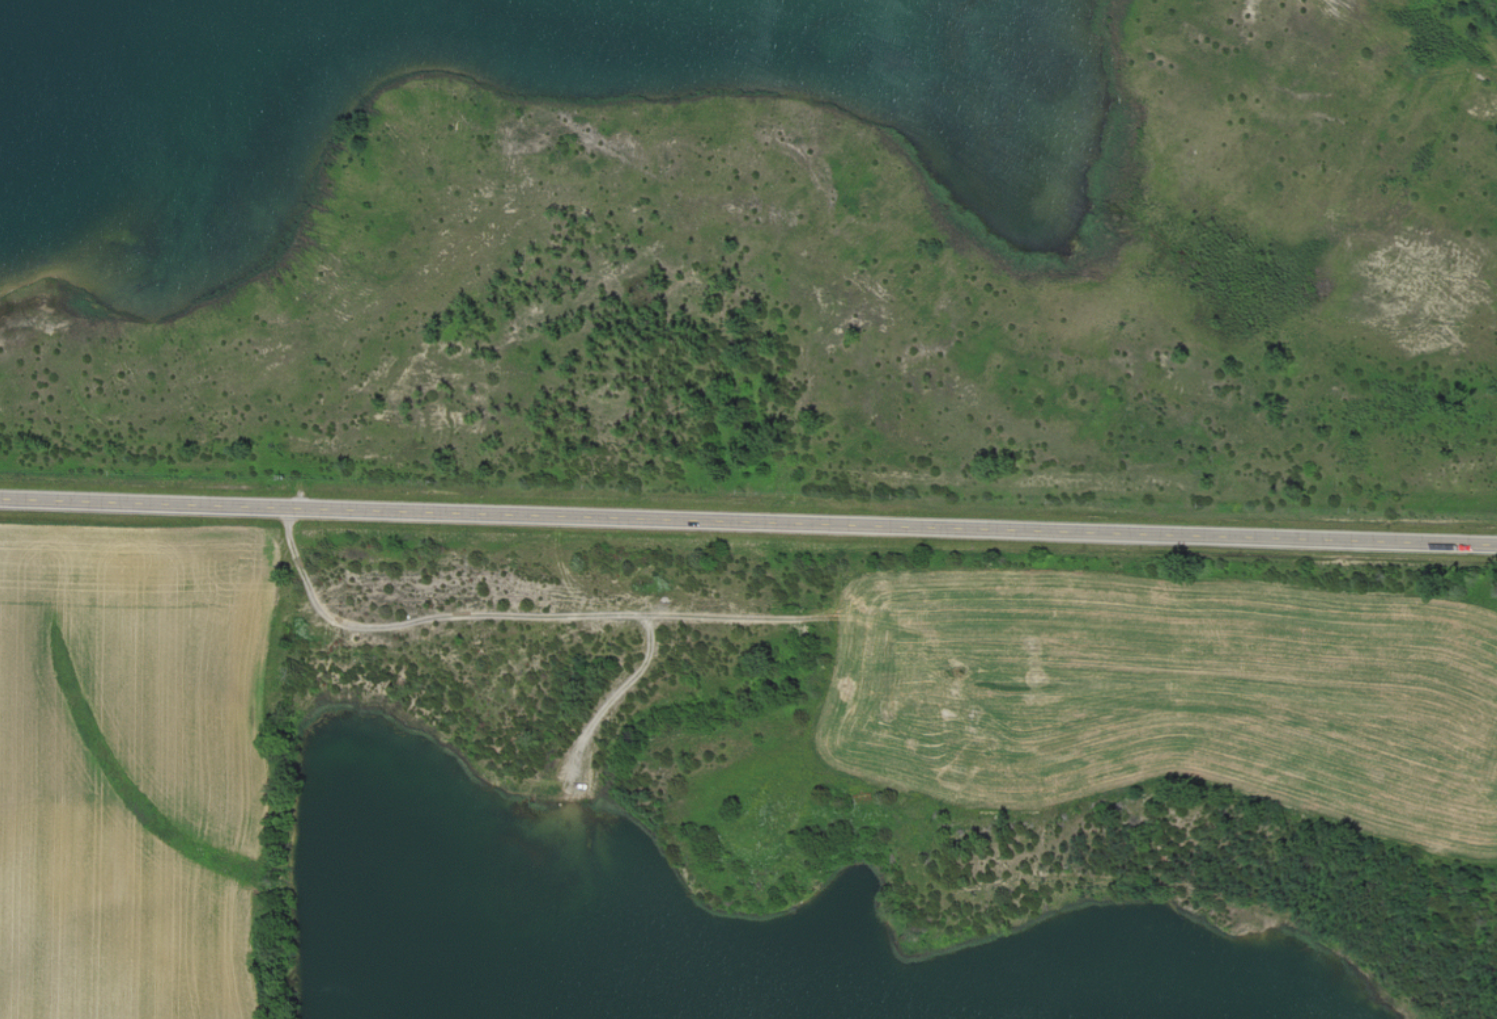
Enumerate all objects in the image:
road: (748, 521)

